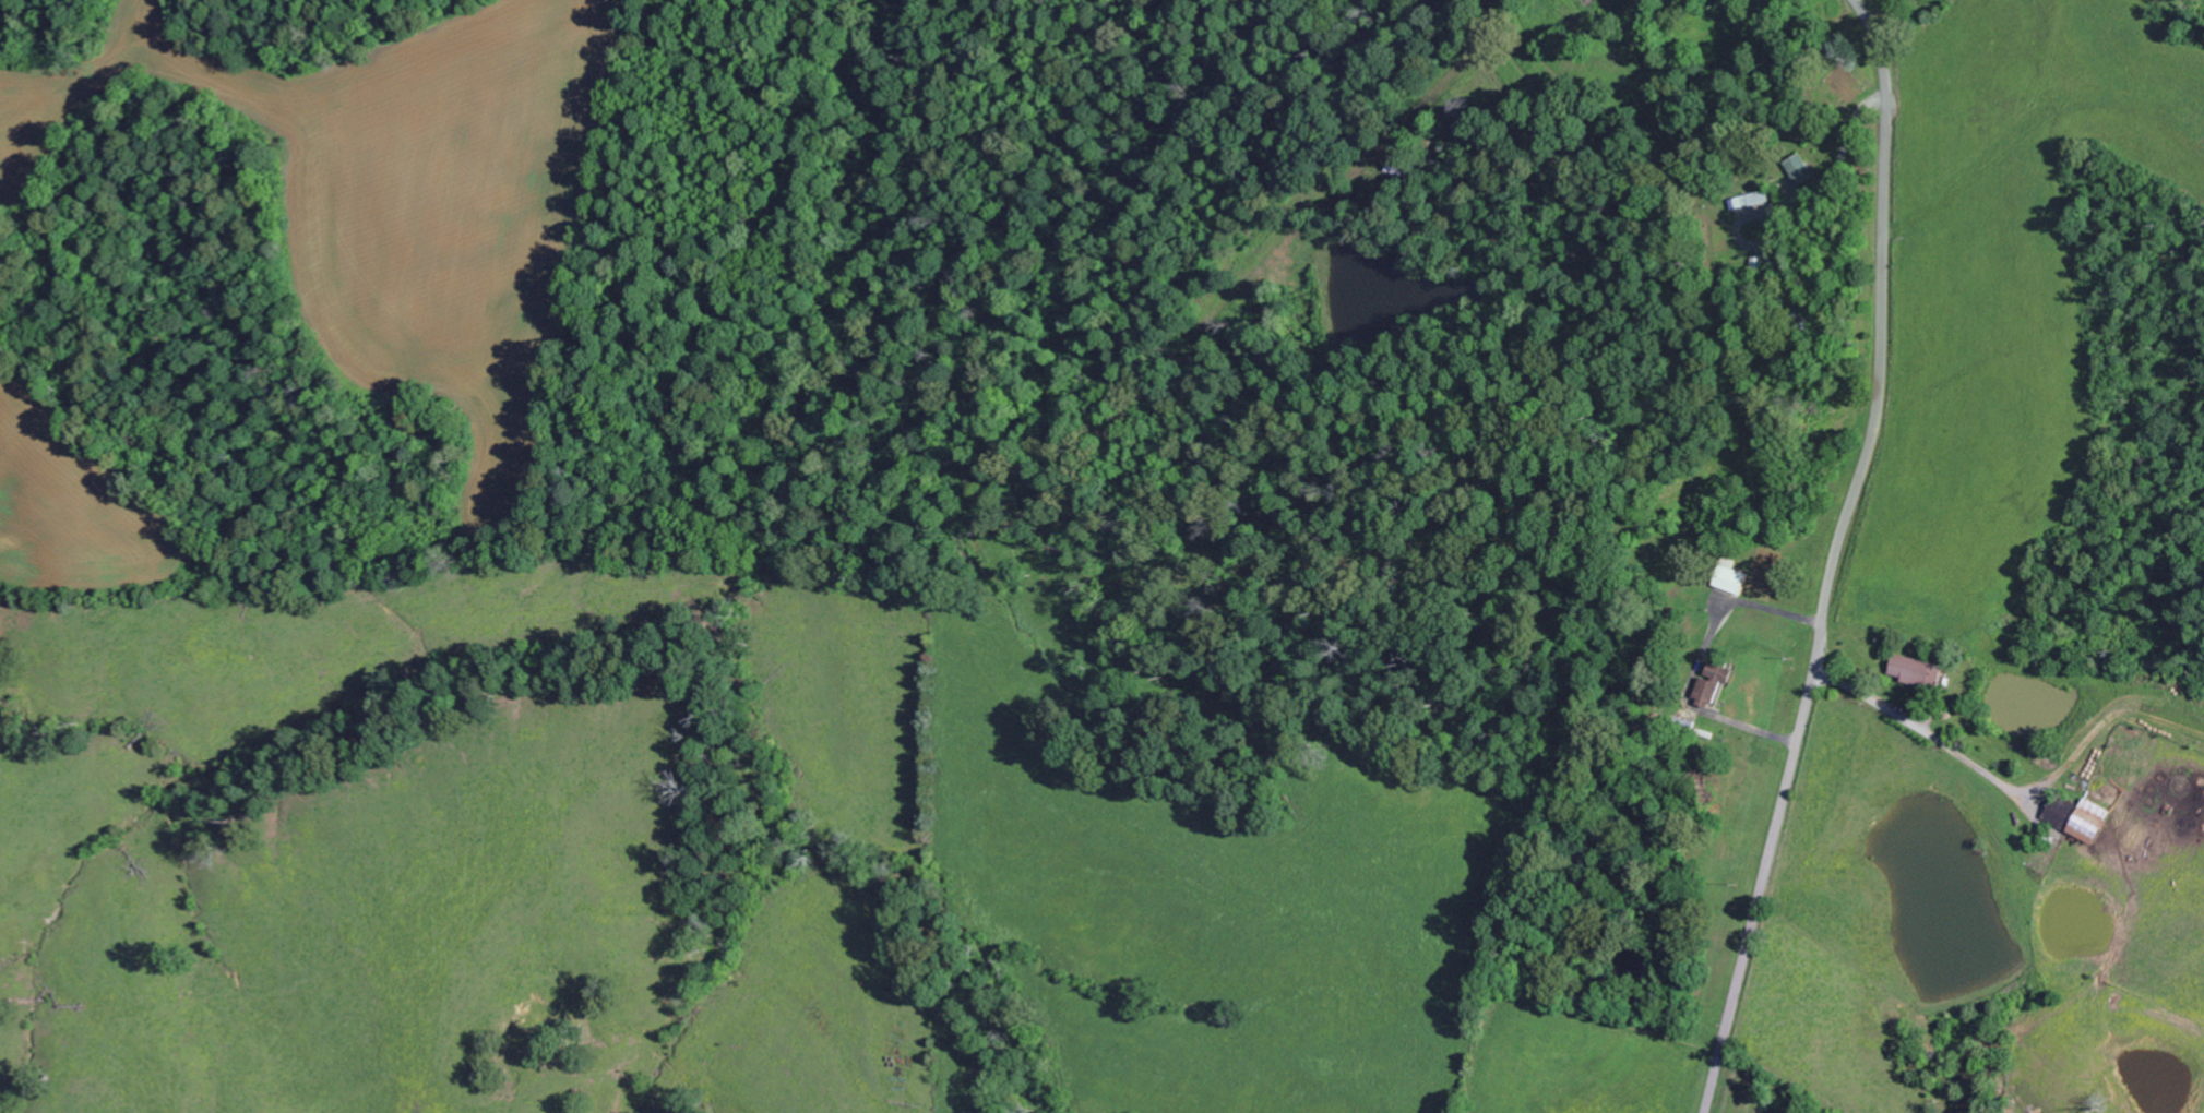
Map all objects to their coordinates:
building: (1801, 169)
building: (1750, 200)
road: (2002, 539)
road: (1836, 558)
building: (1734, 576)
building: (1922, 671)
building: (1714, 684)
building: (2082, 817)

